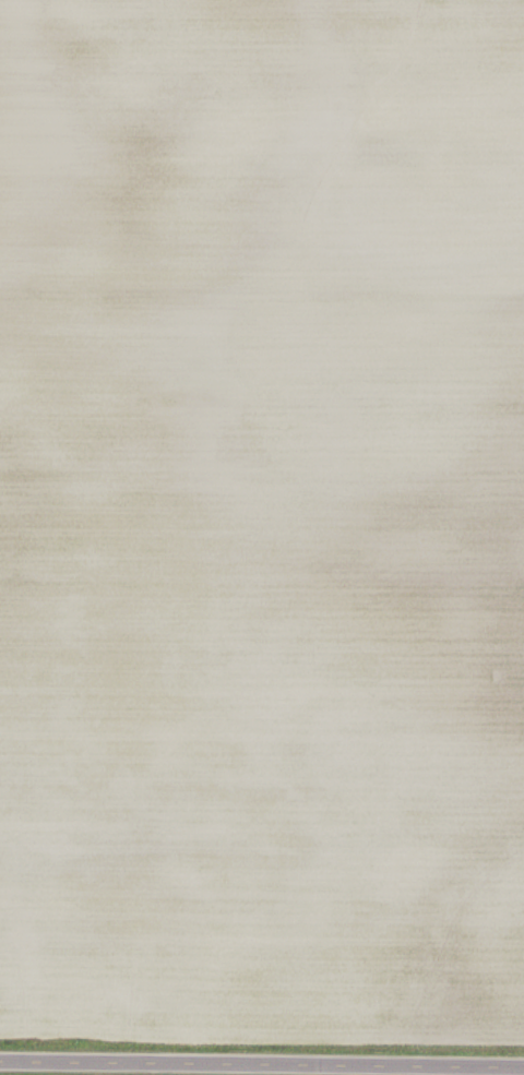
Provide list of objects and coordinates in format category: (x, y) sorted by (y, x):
road: (262, 1063)

